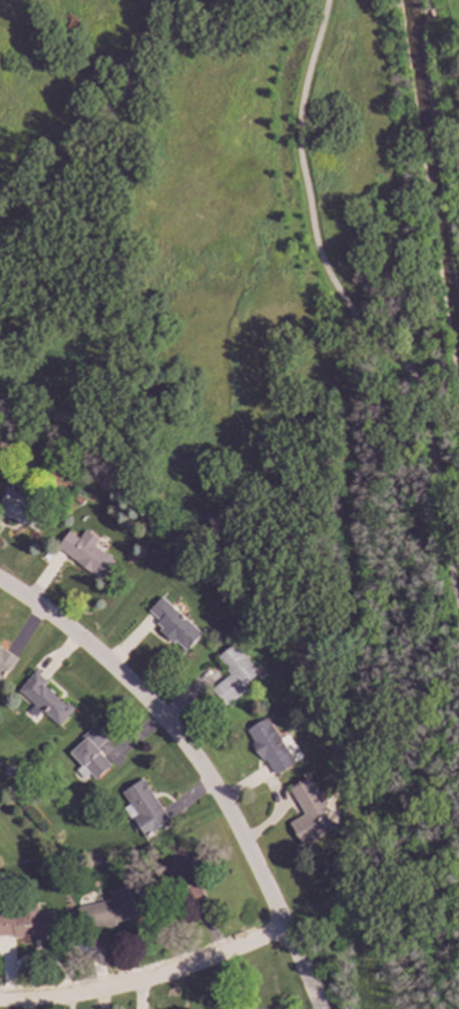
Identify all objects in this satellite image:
park: (186, 275)
road: (351, 312)
park: (400, 506)
building: (22, 508)
building: (86, 552)
building: (173, 622)
building: (6, 659)
building: (233, 672)
building: (45, 697)
building: (269, 744)
building: (91, 751)
road: (197, 765)
building: (8, 770)
building: (145, 806)
building: (309, 811)
building: (182, 873)
building: (107, 909)
building: (27, 921)
road: (145, 980)

